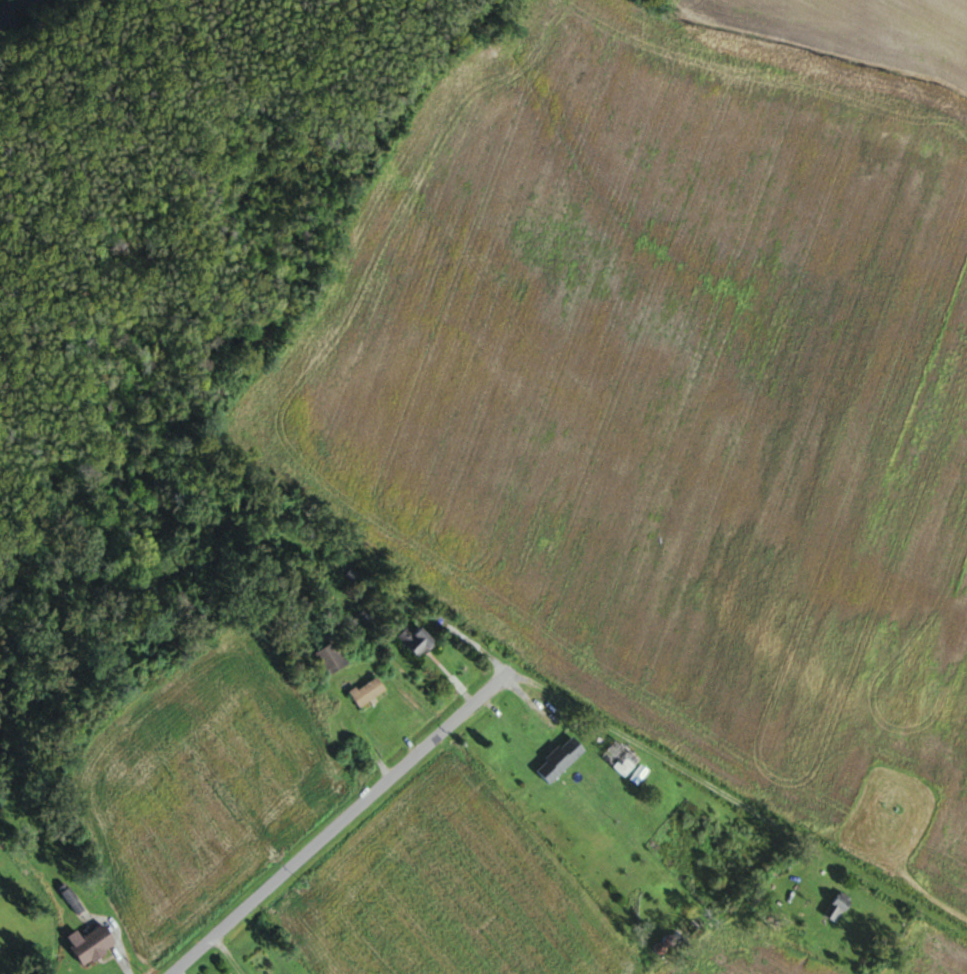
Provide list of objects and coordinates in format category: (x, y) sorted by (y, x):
building: (416, 640)
building: (330, 658)
building: (367, 691)
road: (539, 730)
building: (620, 758)
building: (560, 760)
road: (681, 767)
road: (340, 821)
building: (72, 900)
building: (837, 907)
building: (694, 922)
building: (92, 943)
building: (262, 961)

